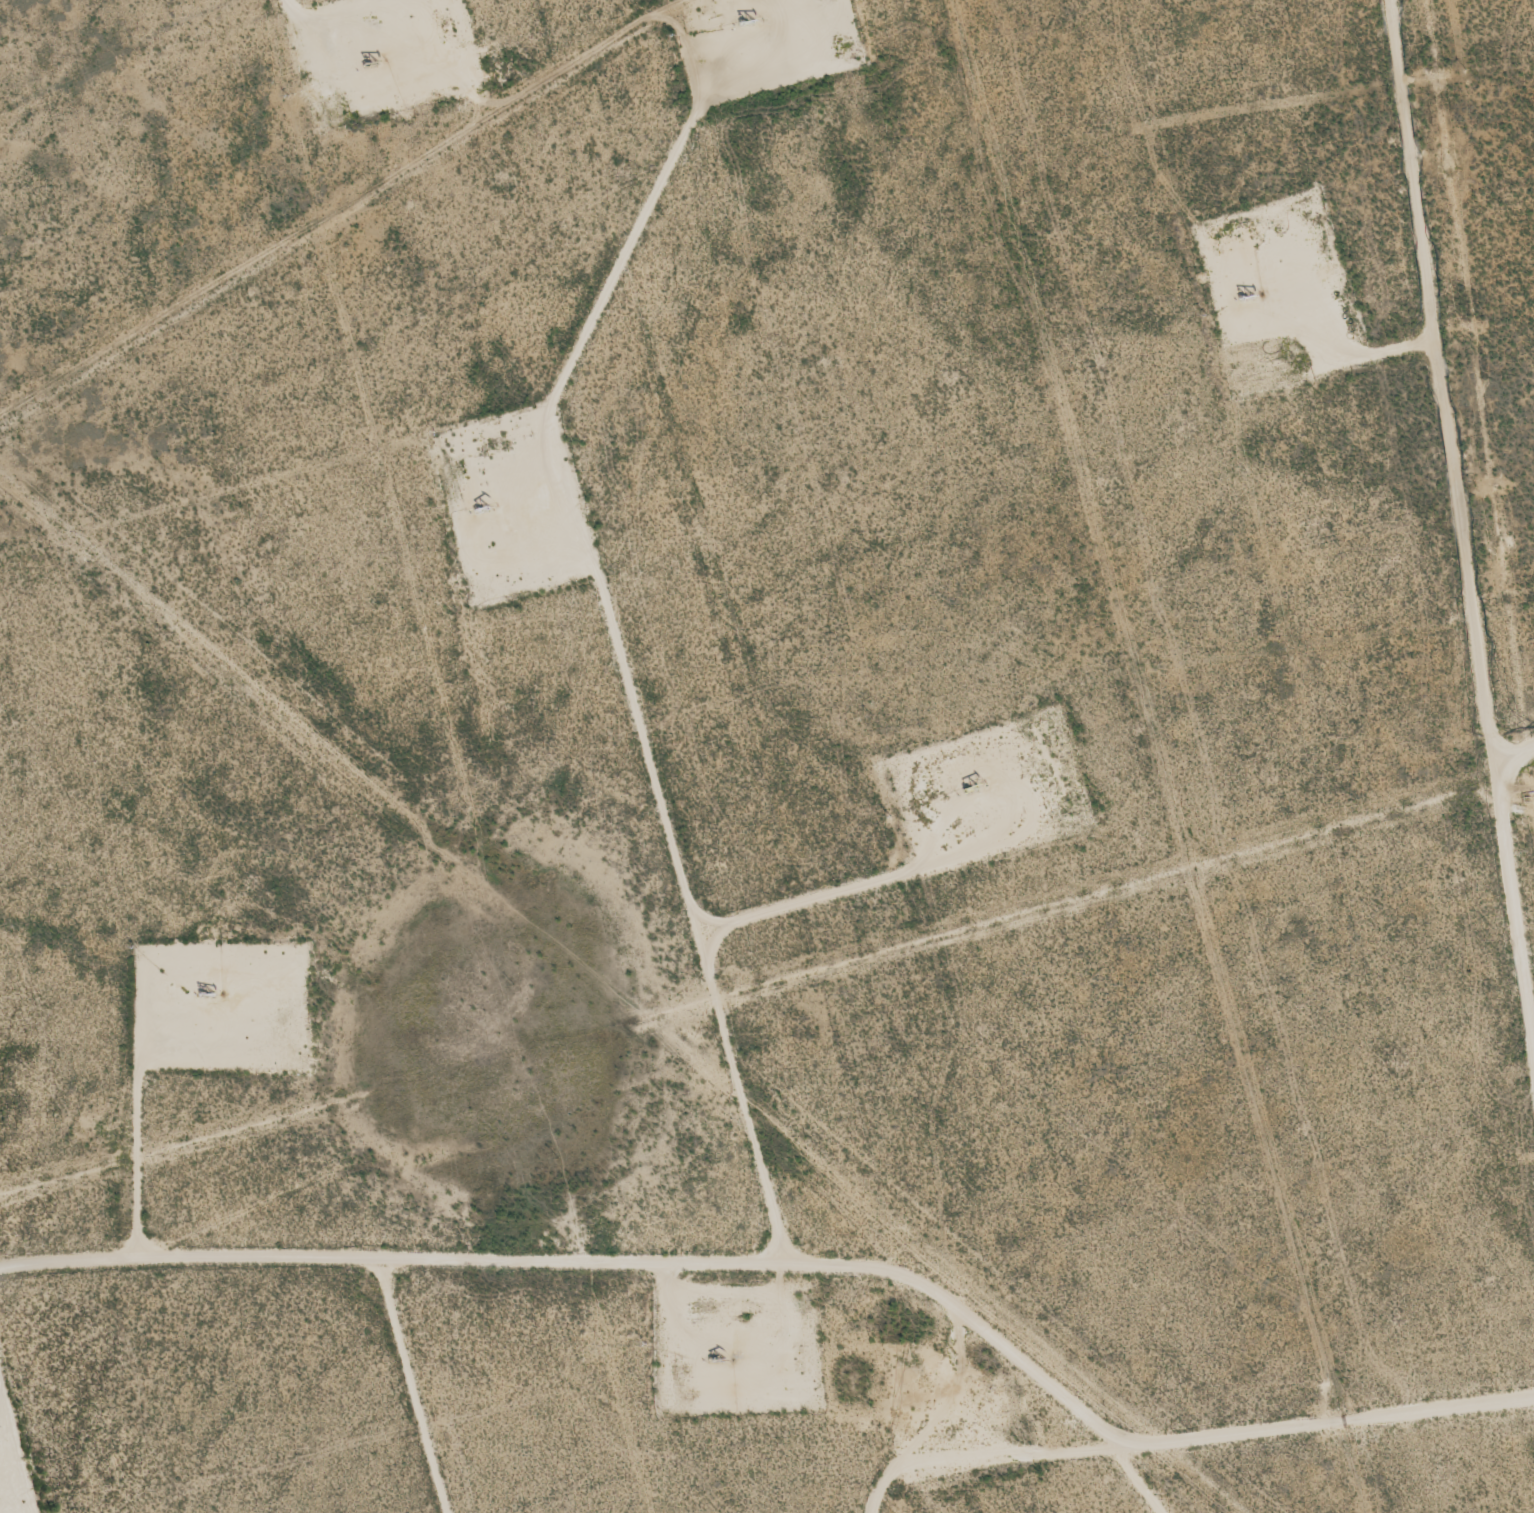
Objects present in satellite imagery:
road: (288, 10)
road: (1446, 378)
road: (621, 654)
road: (1516, 751)
road: (1516, 886)
road: (592, 1268)
road: (1328, 1416)
road: (980, 1455)

